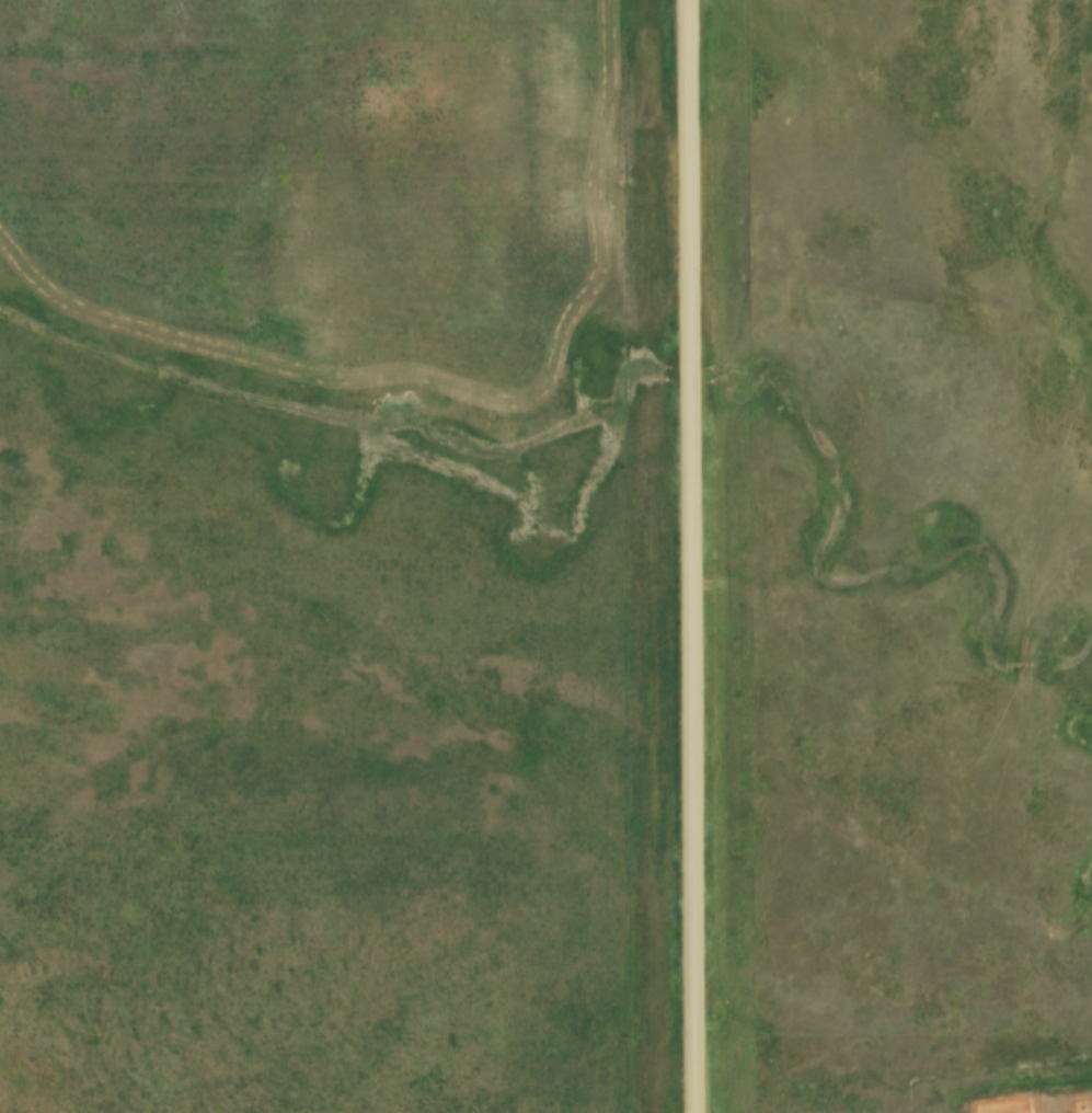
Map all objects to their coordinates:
road: (692, 556)

